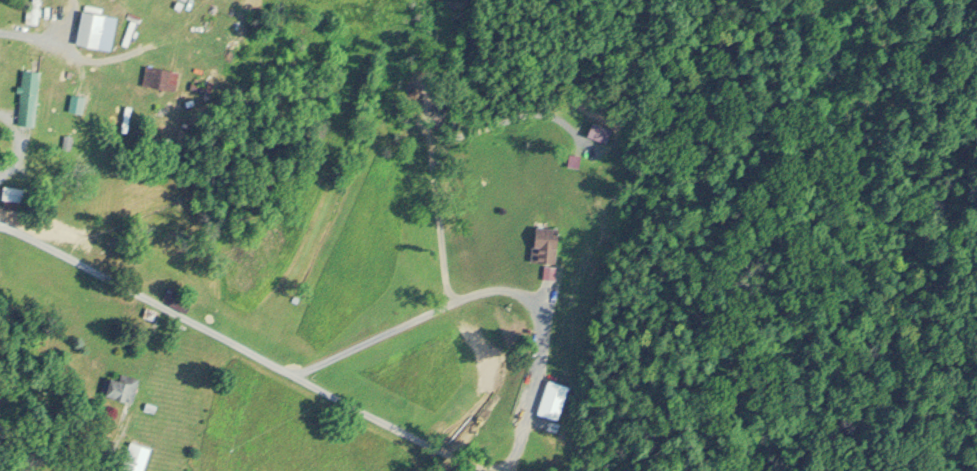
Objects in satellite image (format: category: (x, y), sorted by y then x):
building: (34, 10)
building: (98, 26)
building: (161, 75)
building: (28, 94)
building: (13, 190)
building: (546, 240)
building: (177, 296)
road: (140, 297)
road: (518, 358)
building: (123, 384)
building: (553, 395)
building: (137, 454)

